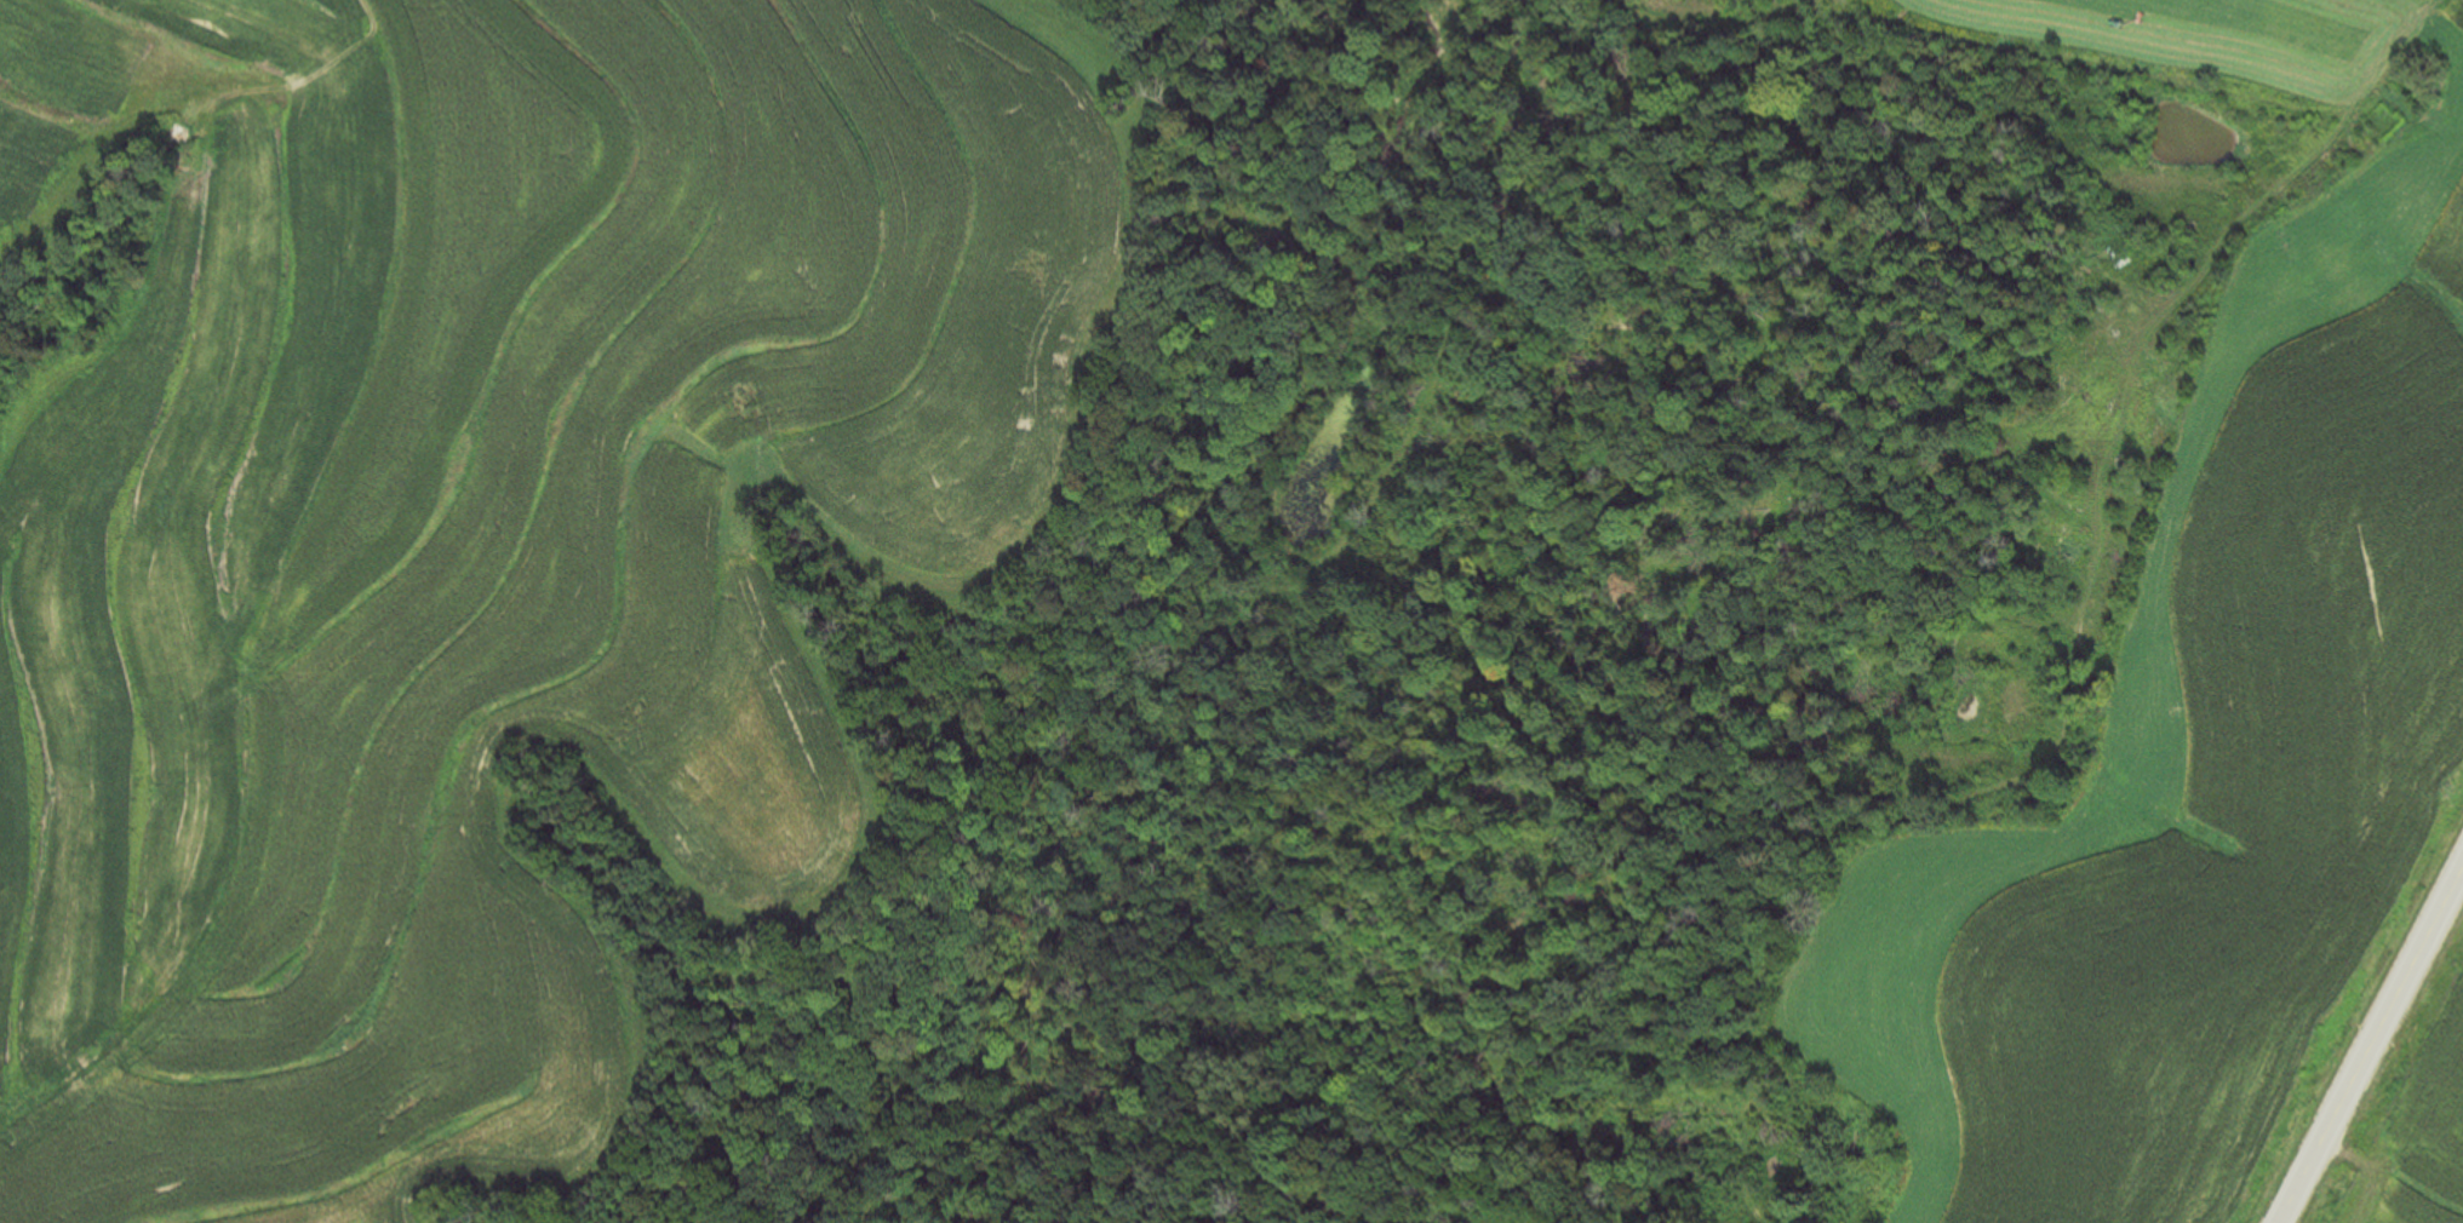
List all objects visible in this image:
road: (2372, 1047)

